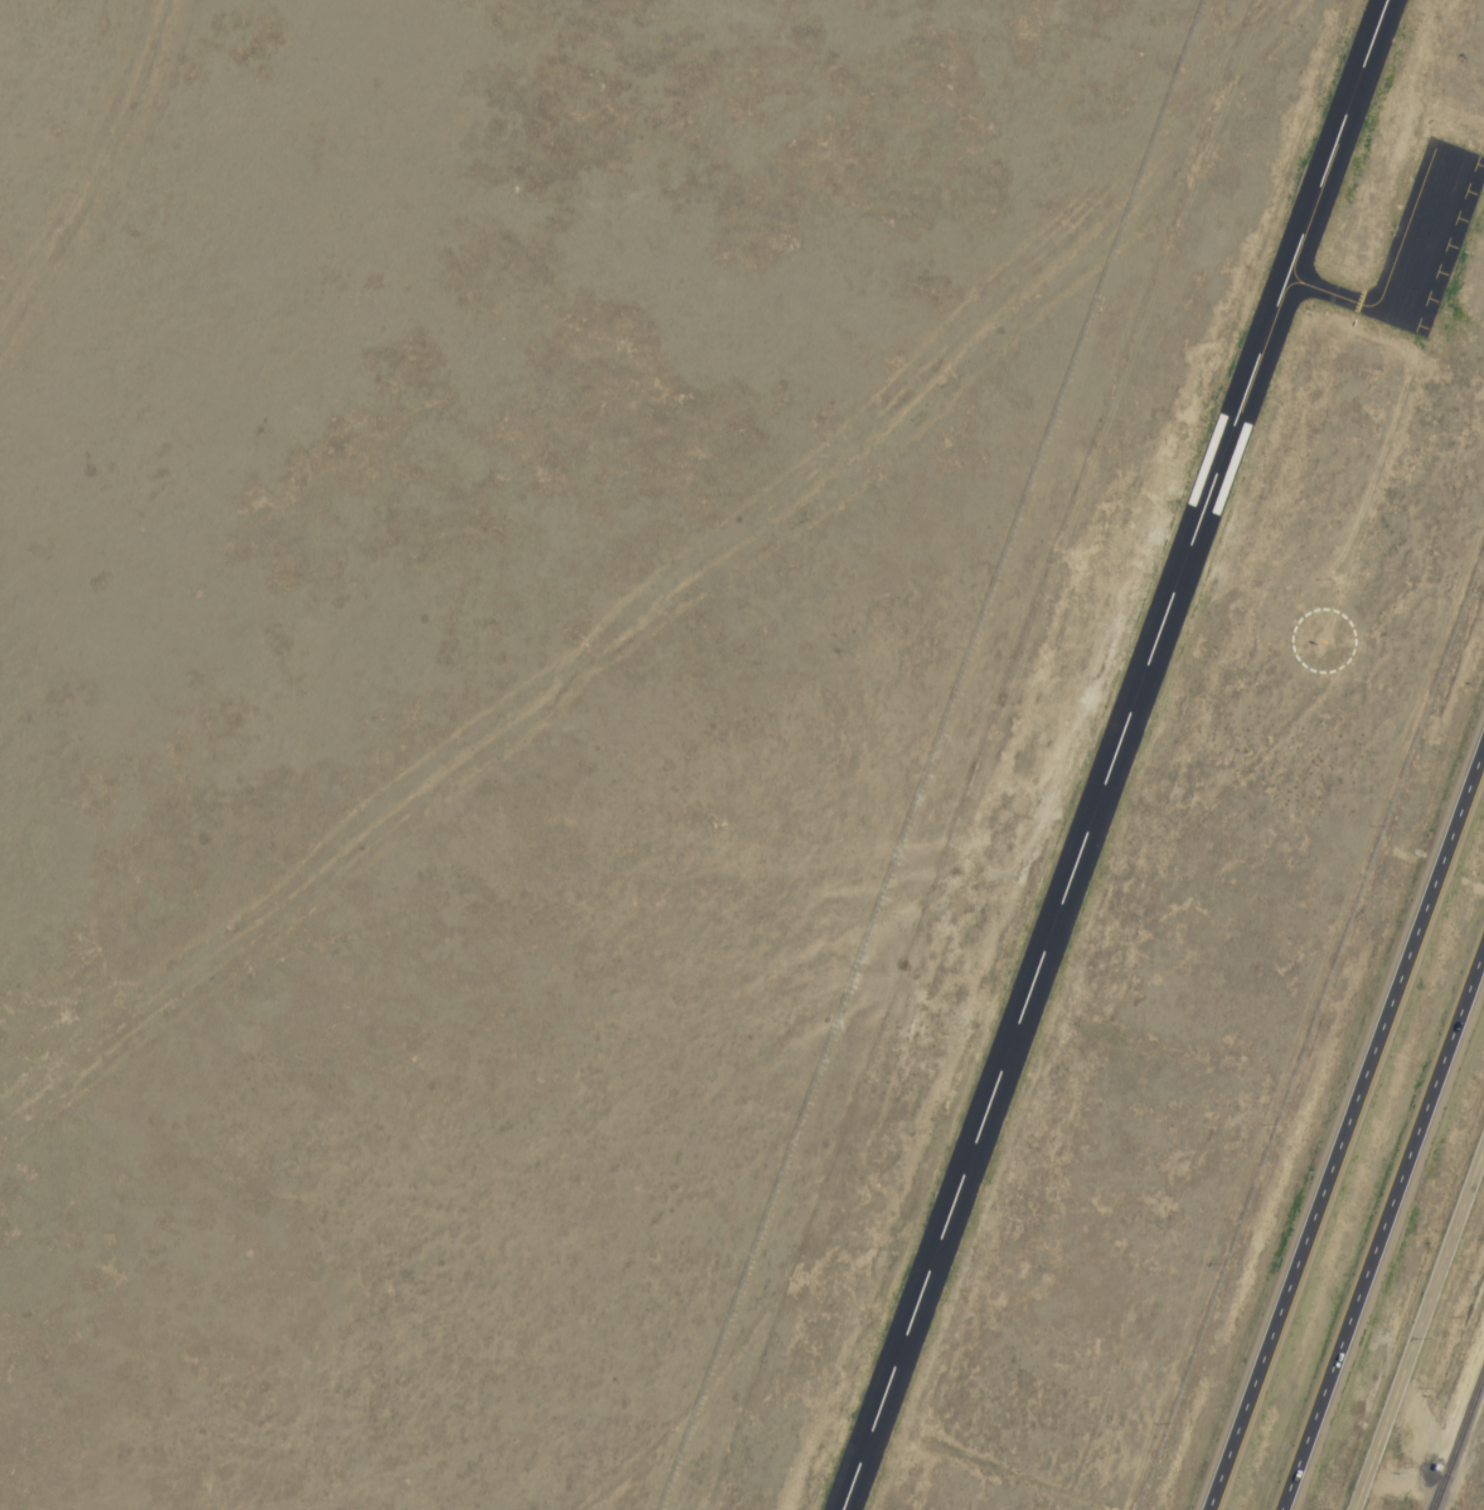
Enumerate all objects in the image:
airport apron: (1428, 237)
airport taxiway: (1328, 288)
airport runway: (1117, 755)
road: (1343, 1124)
road: (1385, 1234)
road: (1414, 1307)
railway: (1458, 1436)

